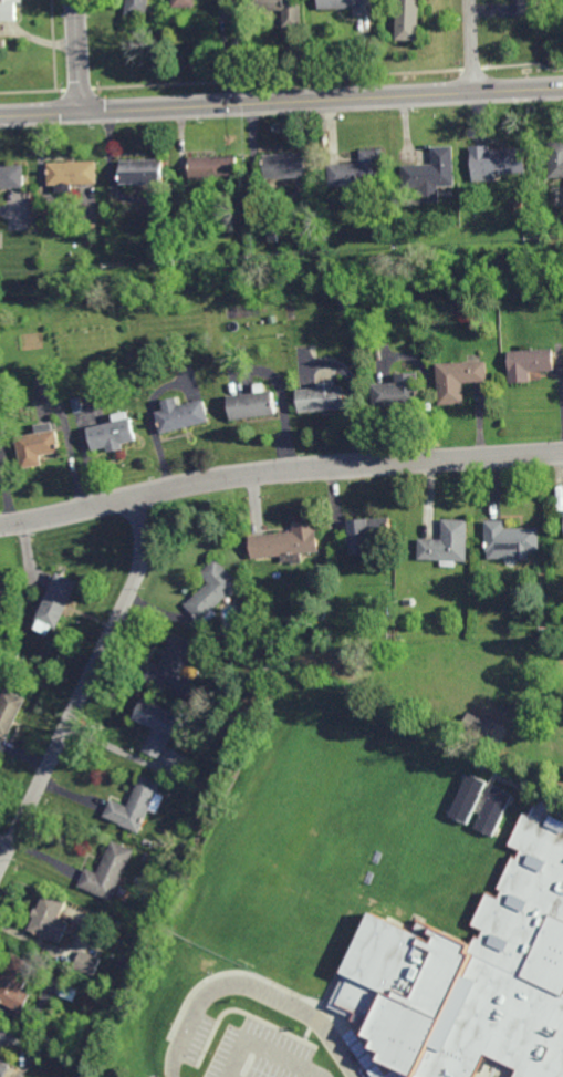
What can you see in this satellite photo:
building: (185, 2)
building: (350, 4)
building: (138, 7)
building: (530, 7)
building: (282, 9)
building: (9, 10)
building: (409, 19)
road: (472, 45)
road: (77, 55)
road: (281, 101)
building: (556, 158)
building: (498, 159)
building: (288, 165)
building: (216, 167)
building: (431, 169)
building: (144, 170)
building: (358, 170)
building: (73, 173)
building: (12, 175)
building: (519, 185)
building: (333, 195)
building: (102, 238)
building: (273, 319)
building: (530, 364)
building: (459, 380)
building: (126, 384)
building: (397, 393)
building: (323, 398)
building: (77, 405)
building: (256, 405)
building: (185, 416)
building: (115, 435)
building: (39, 446)
road: (279, 468)
building: (365, 530)
building: (507, 537)
building: (285, 538)
building: (445, 540)
building: (210, 590)
building: (3, 597)
building: (59, 597)
building: (388, 609)
building: (23, 663)
building: (173, 664)
road: (86, 684)
building: (10, 708)
building: (158, 724)
building: (476, 725)
building: (468, 798)
building: (135, 804)
building: (492, 809)
building: (146, 855)
building: (107, 870)
building: (50, 918)
building: (86, 962)
building: (487, 965)
building: (15, 982)
road: (251, 990)
building: (90, 1038)
building: (4, 1049)

